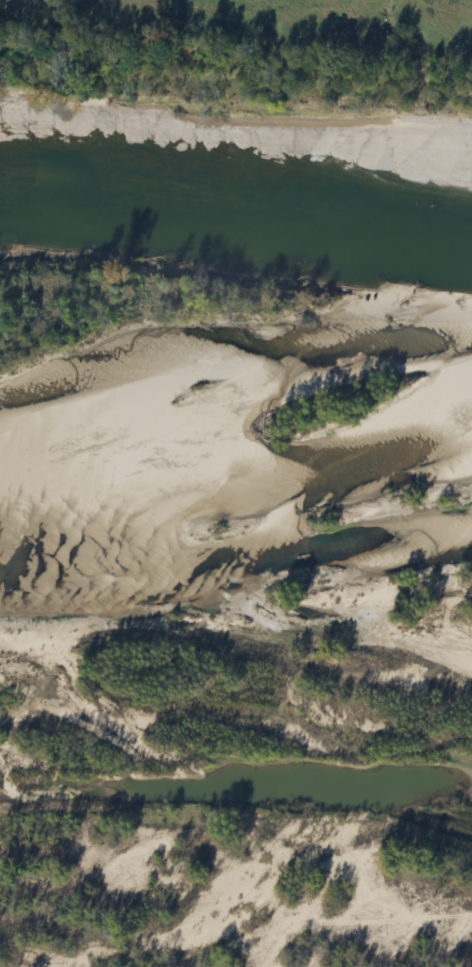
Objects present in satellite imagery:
river: (236, 192)

